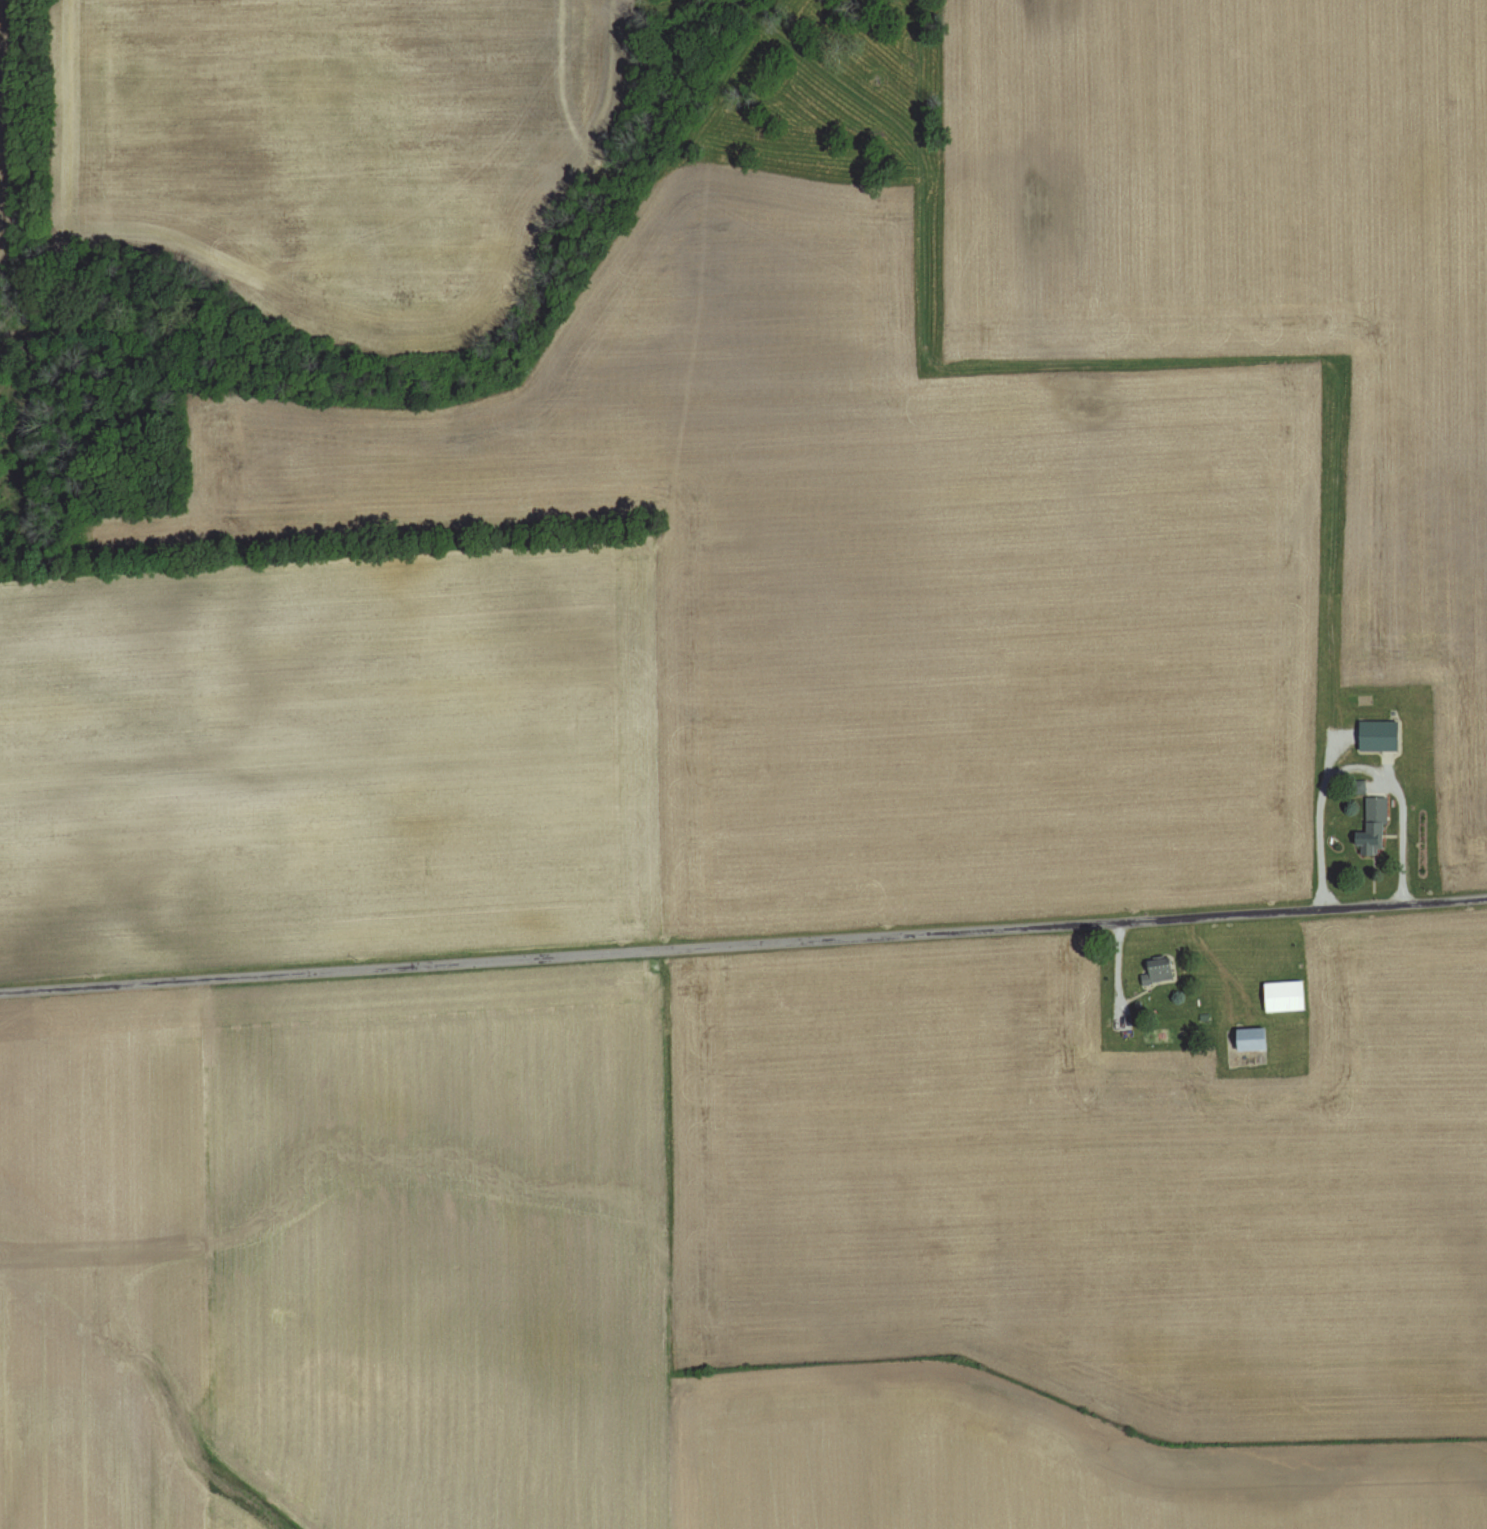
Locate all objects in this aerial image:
building: (1375, 736)
road: (1358, 768)
building: (1359, 788)
building: (1372, 826)
road: (743, 944)
road: (1120, 973)
building: (1156, 974)
building: (1283, 997)

